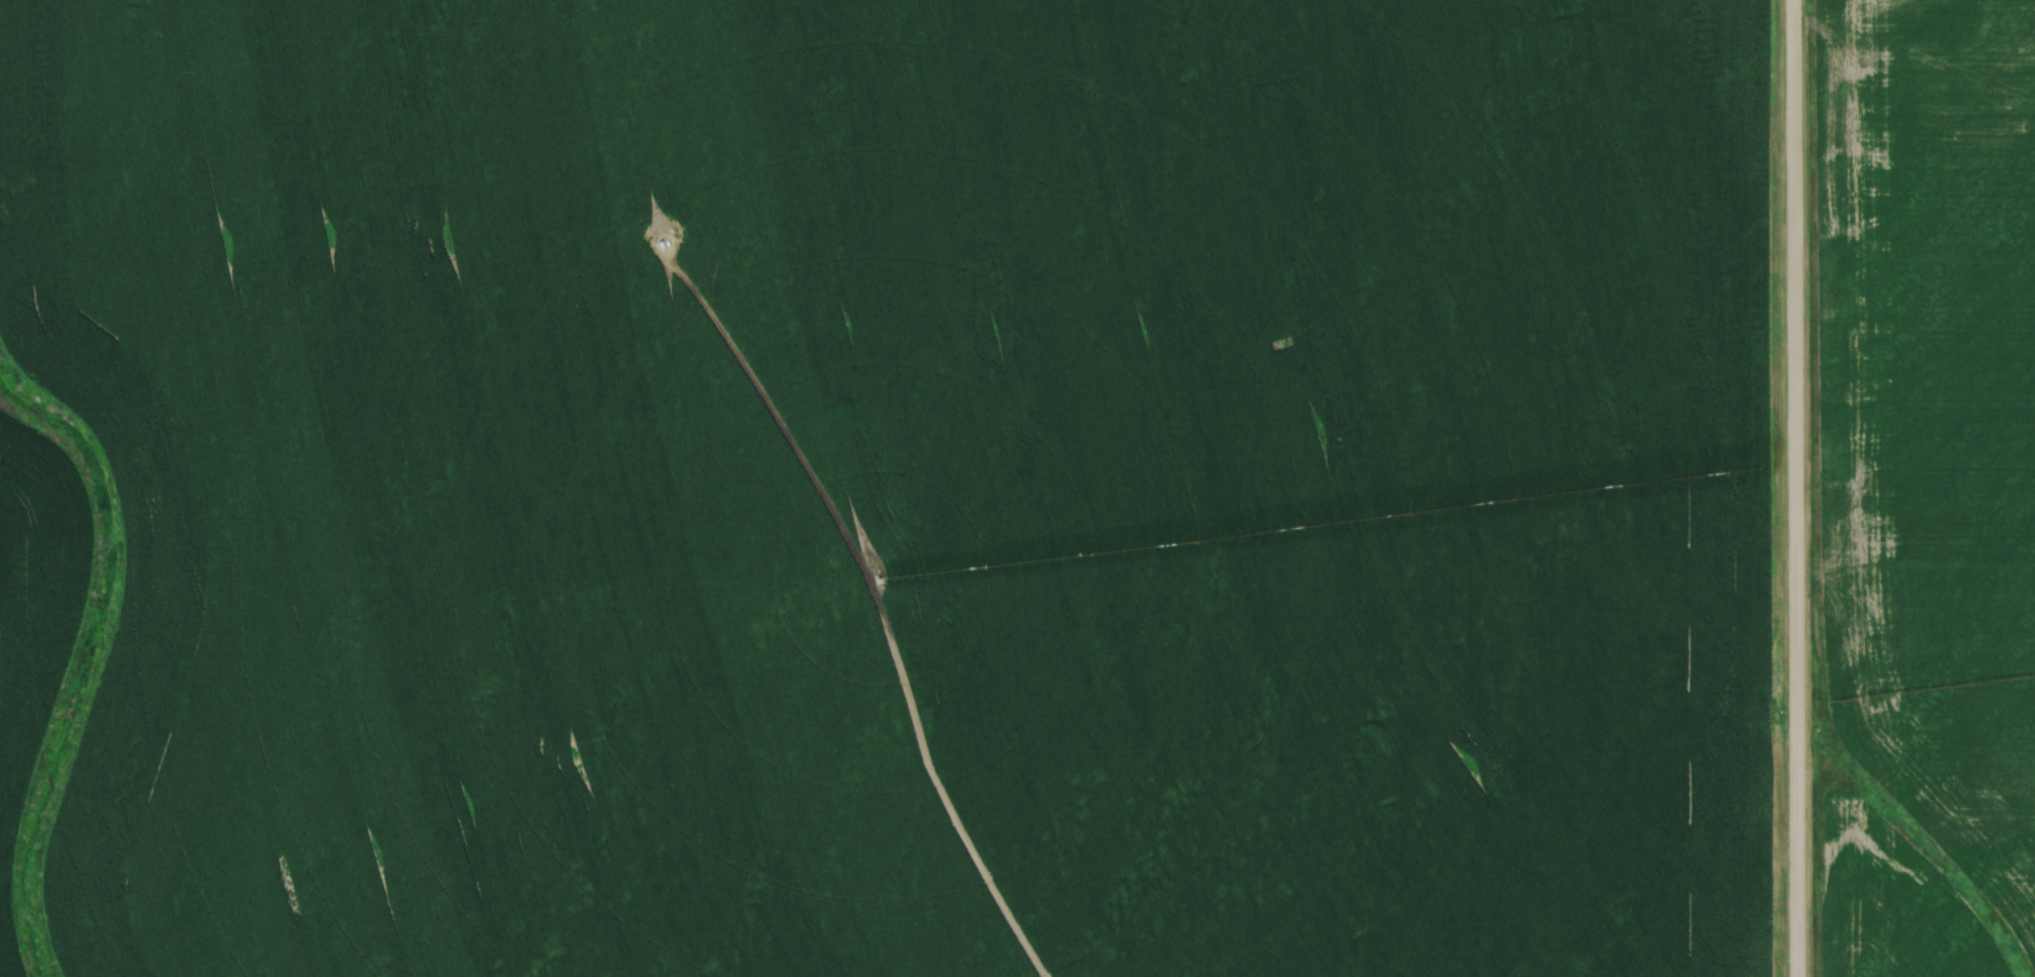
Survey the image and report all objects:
road: (1794, 488)

